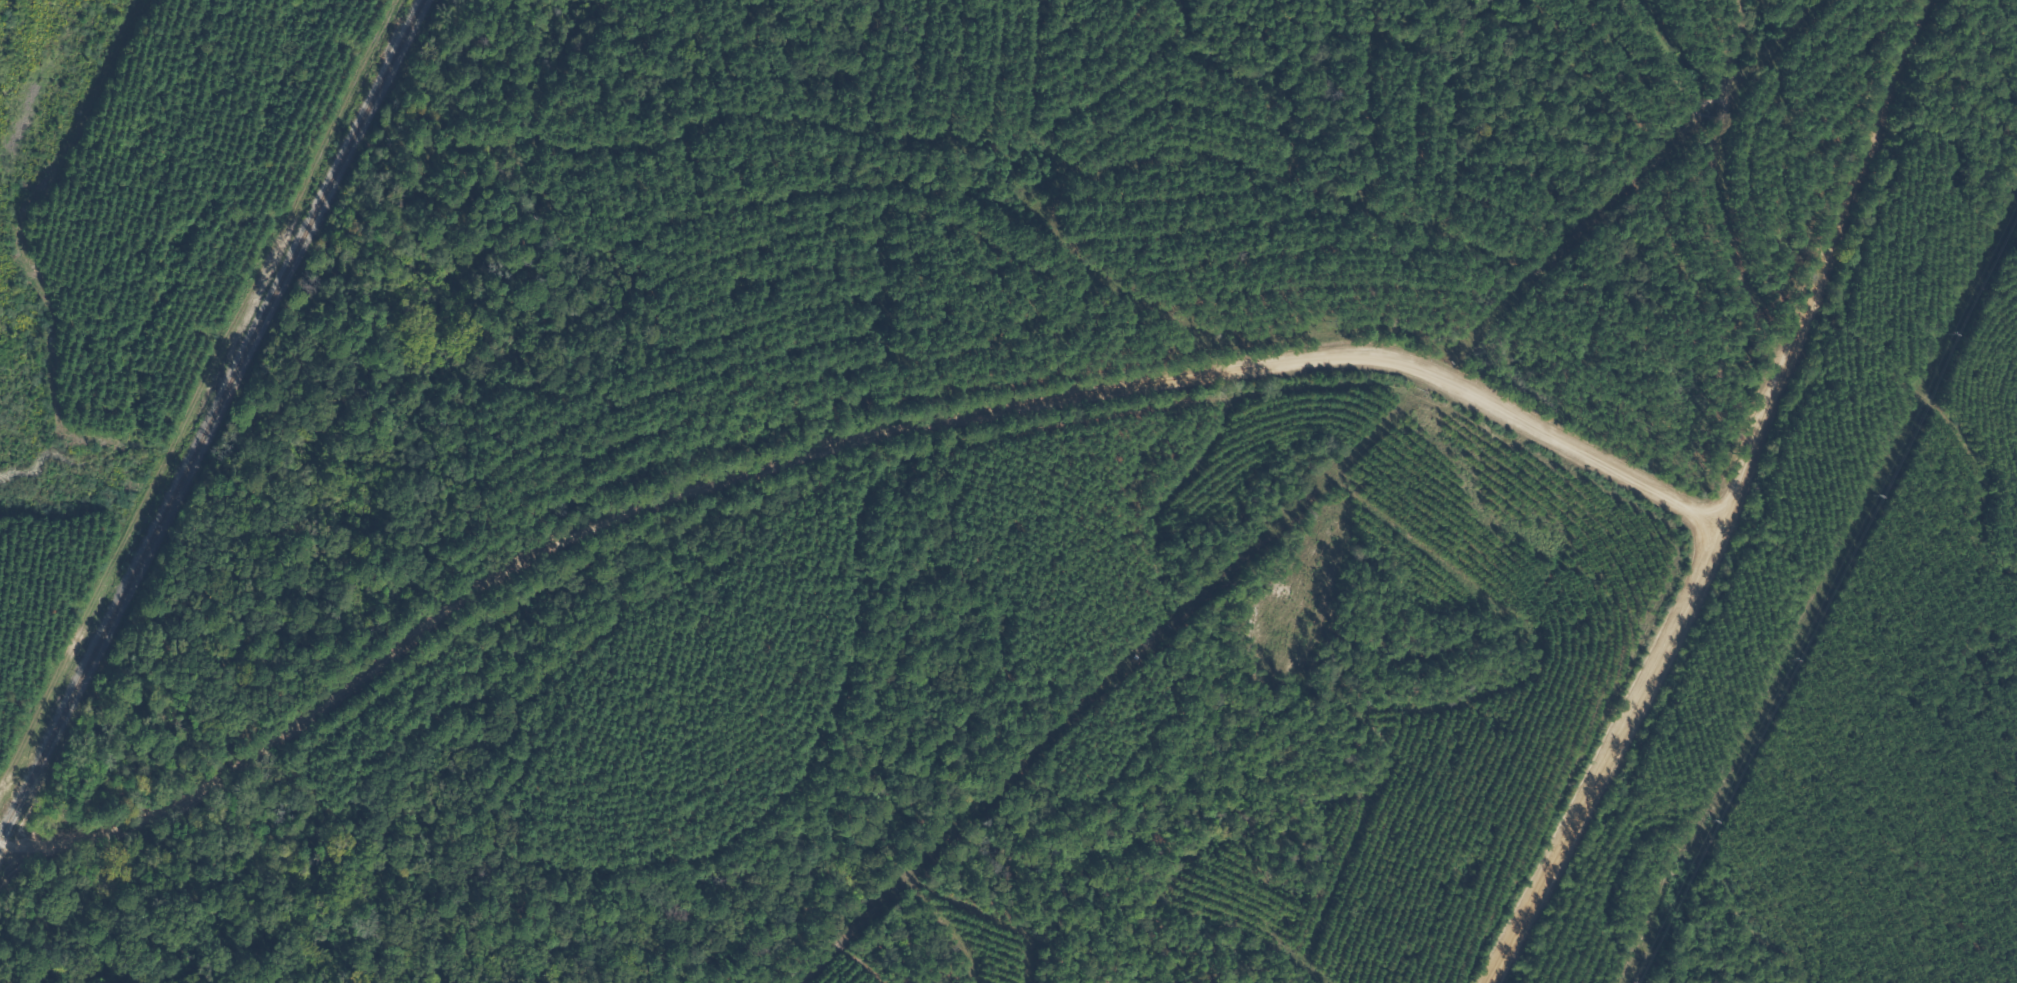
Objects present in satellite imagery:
road: (1865, 58)
road: (815, 412)
railway: (210, 416)
road: (1726, 493)

